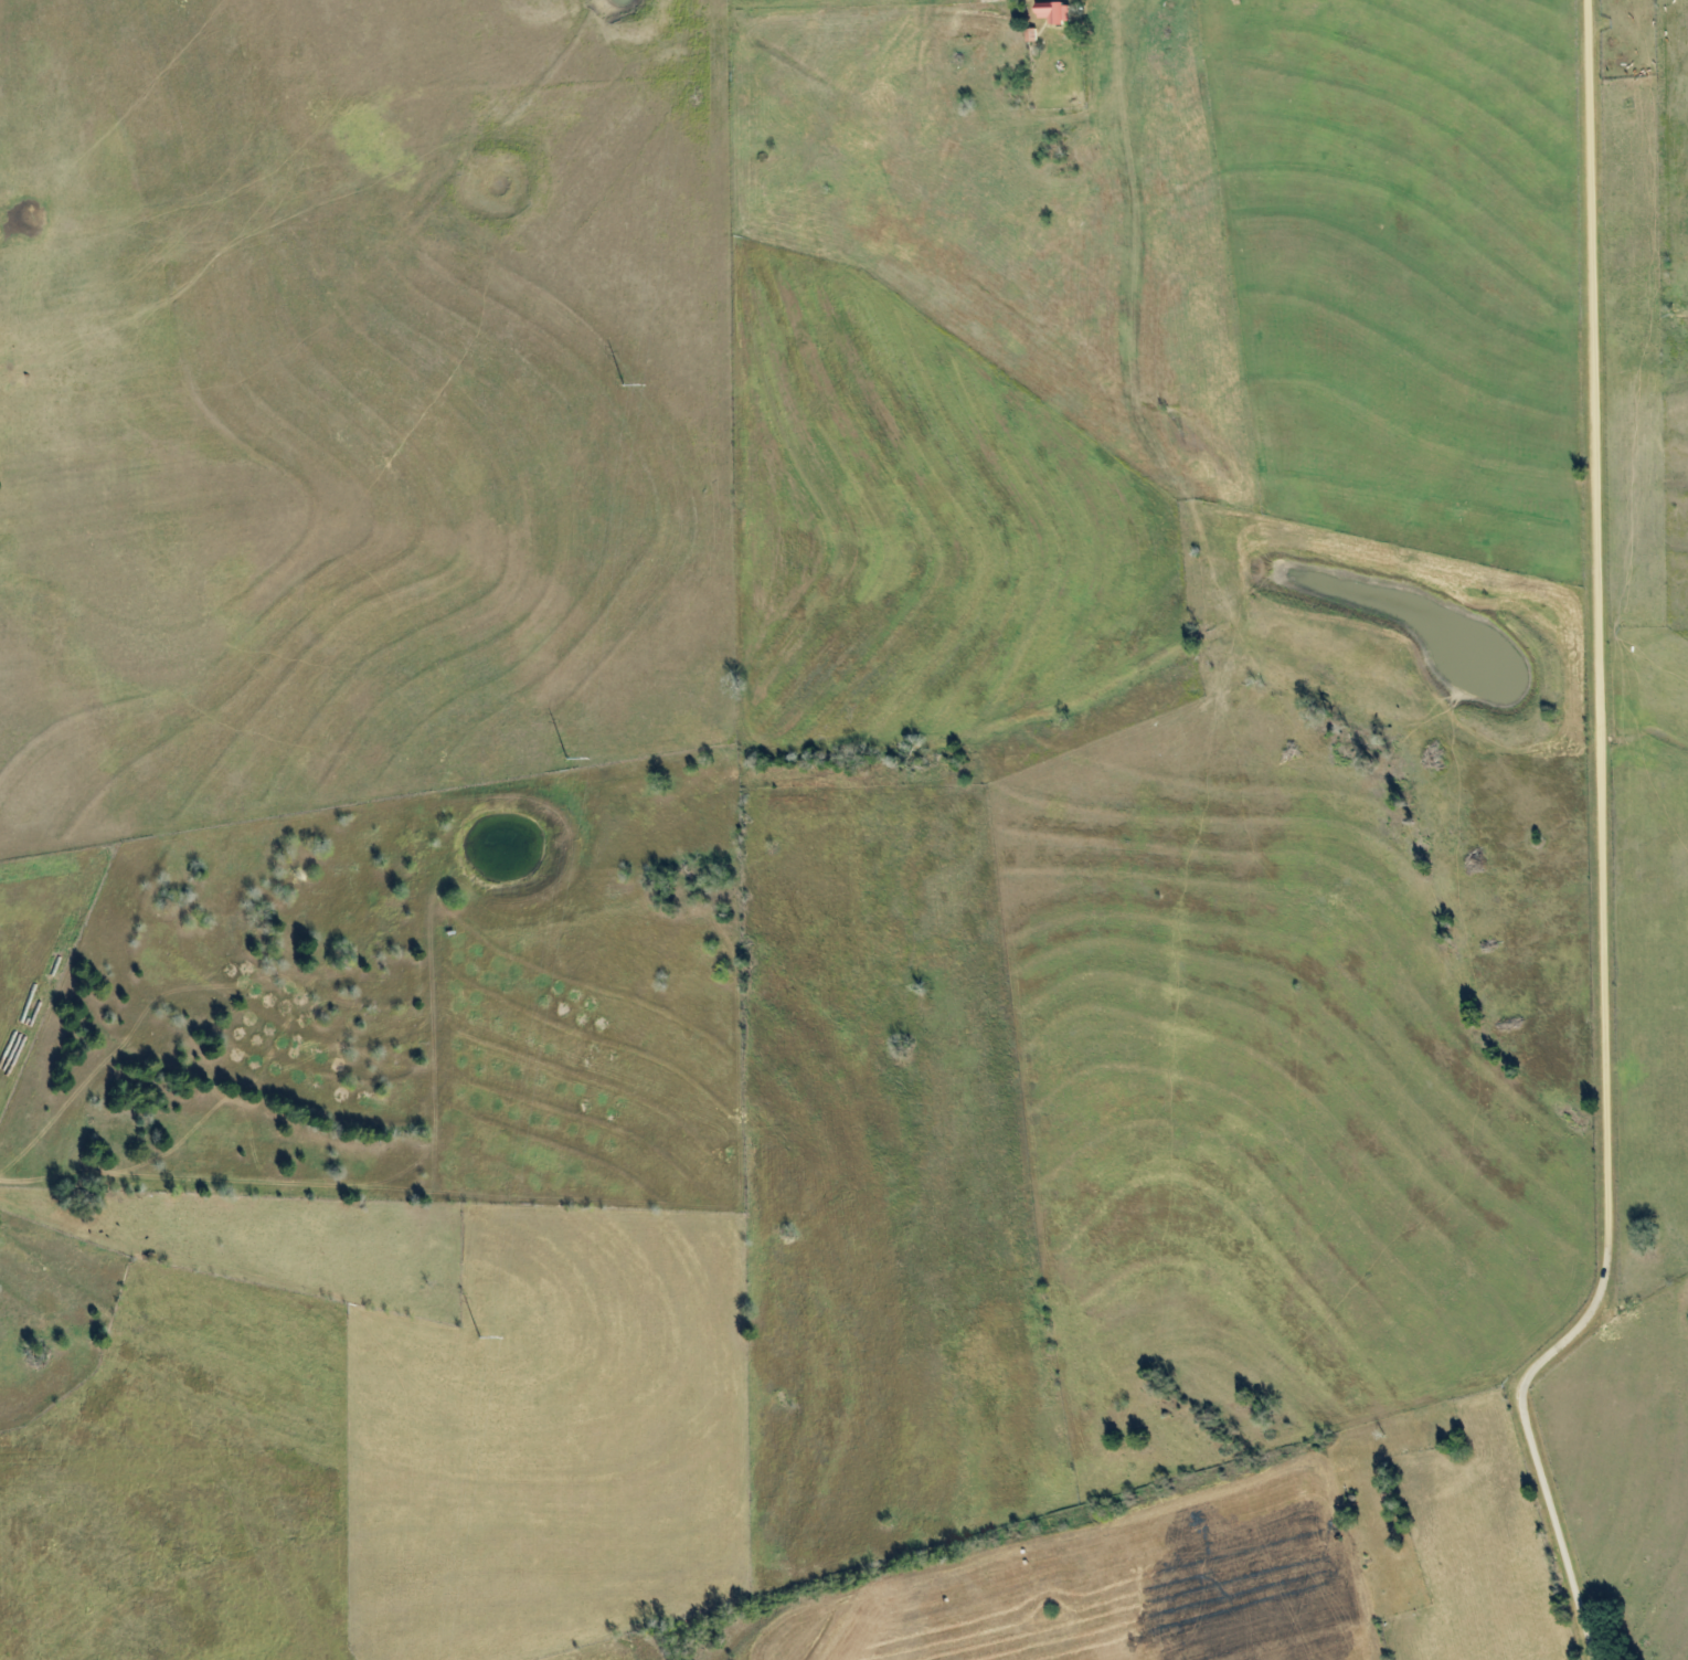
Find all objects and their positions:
building: (1053, 13)
power tower: (623, 385)
power tower: (566, 761)
road: (1606, 848)
power tower: (478, 1337)
park: (1381, 1511)

